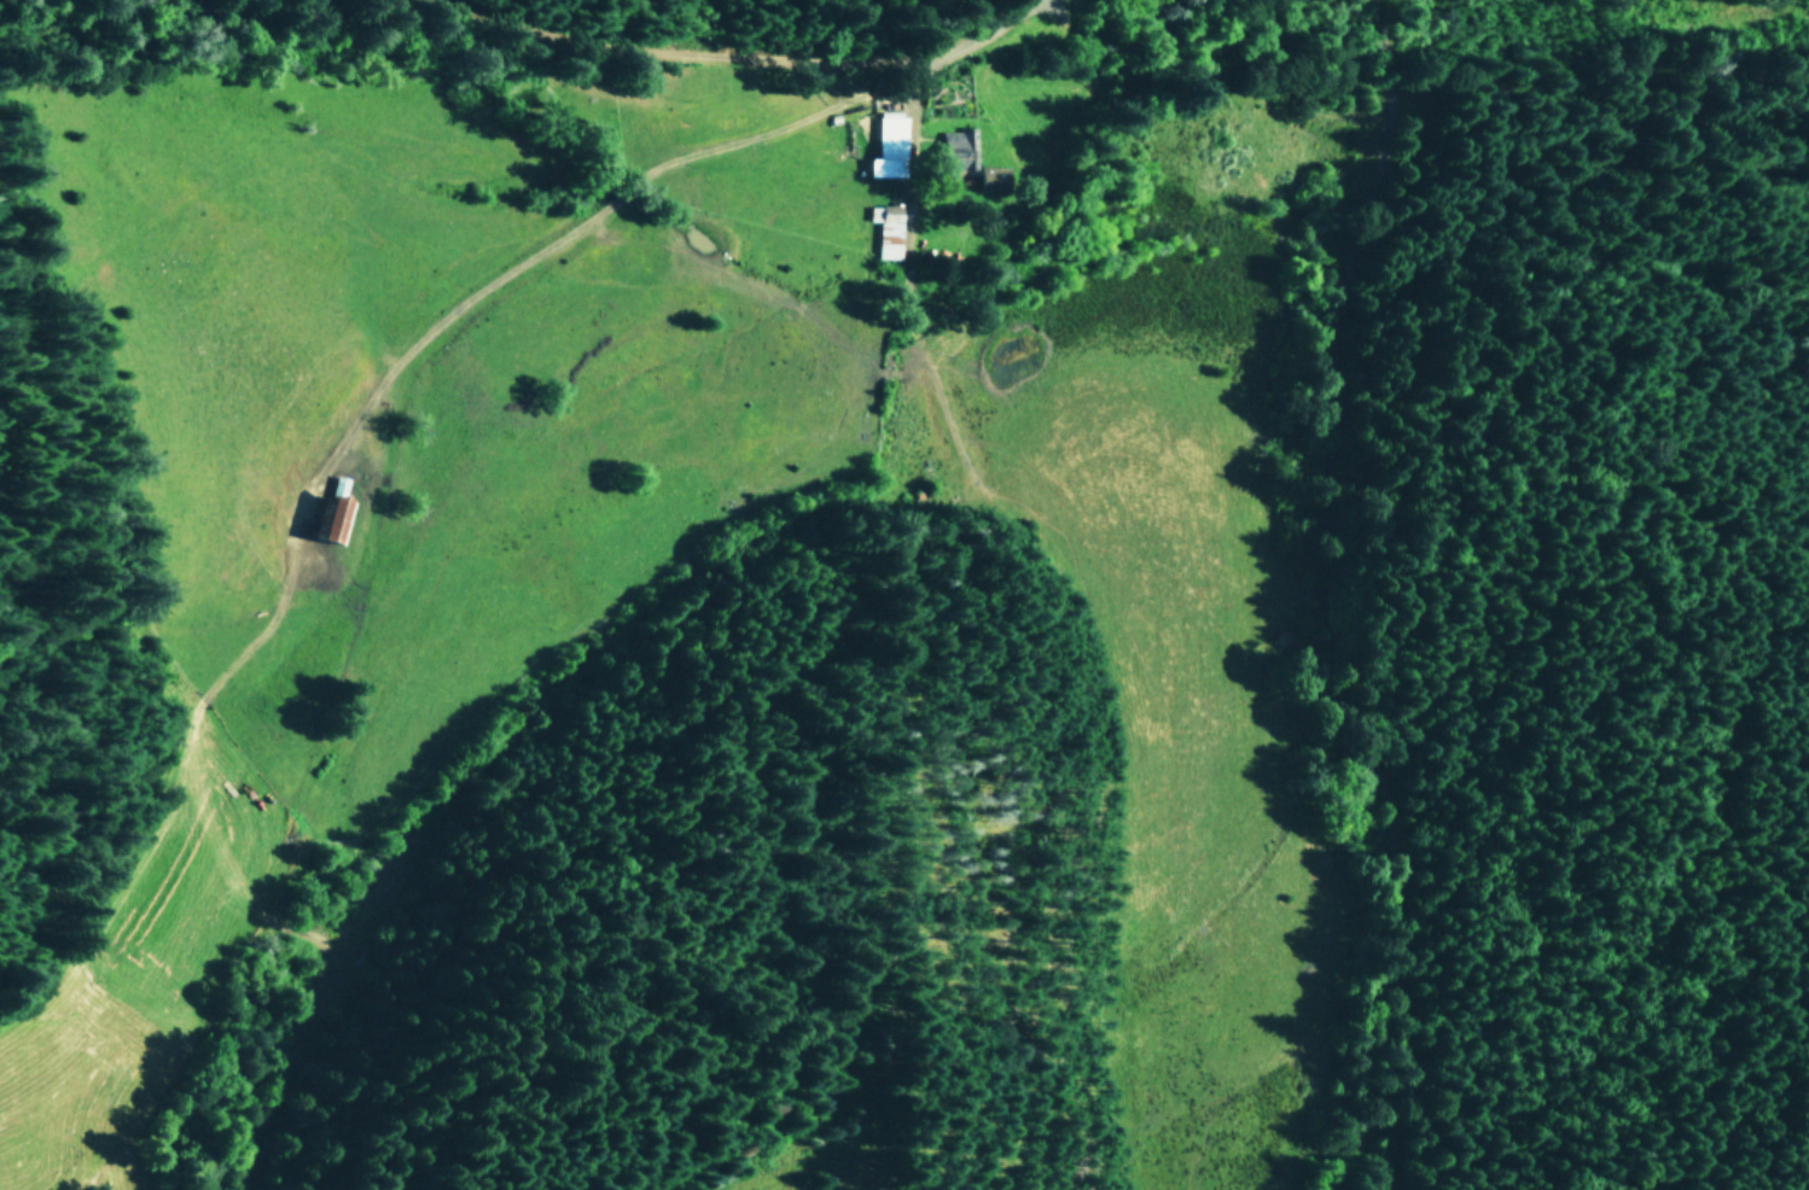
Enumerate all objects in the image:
road: (755, 53)
building: (886, 145)
road: (587, 216)
road: (909, 294)
building: (333, 526)

